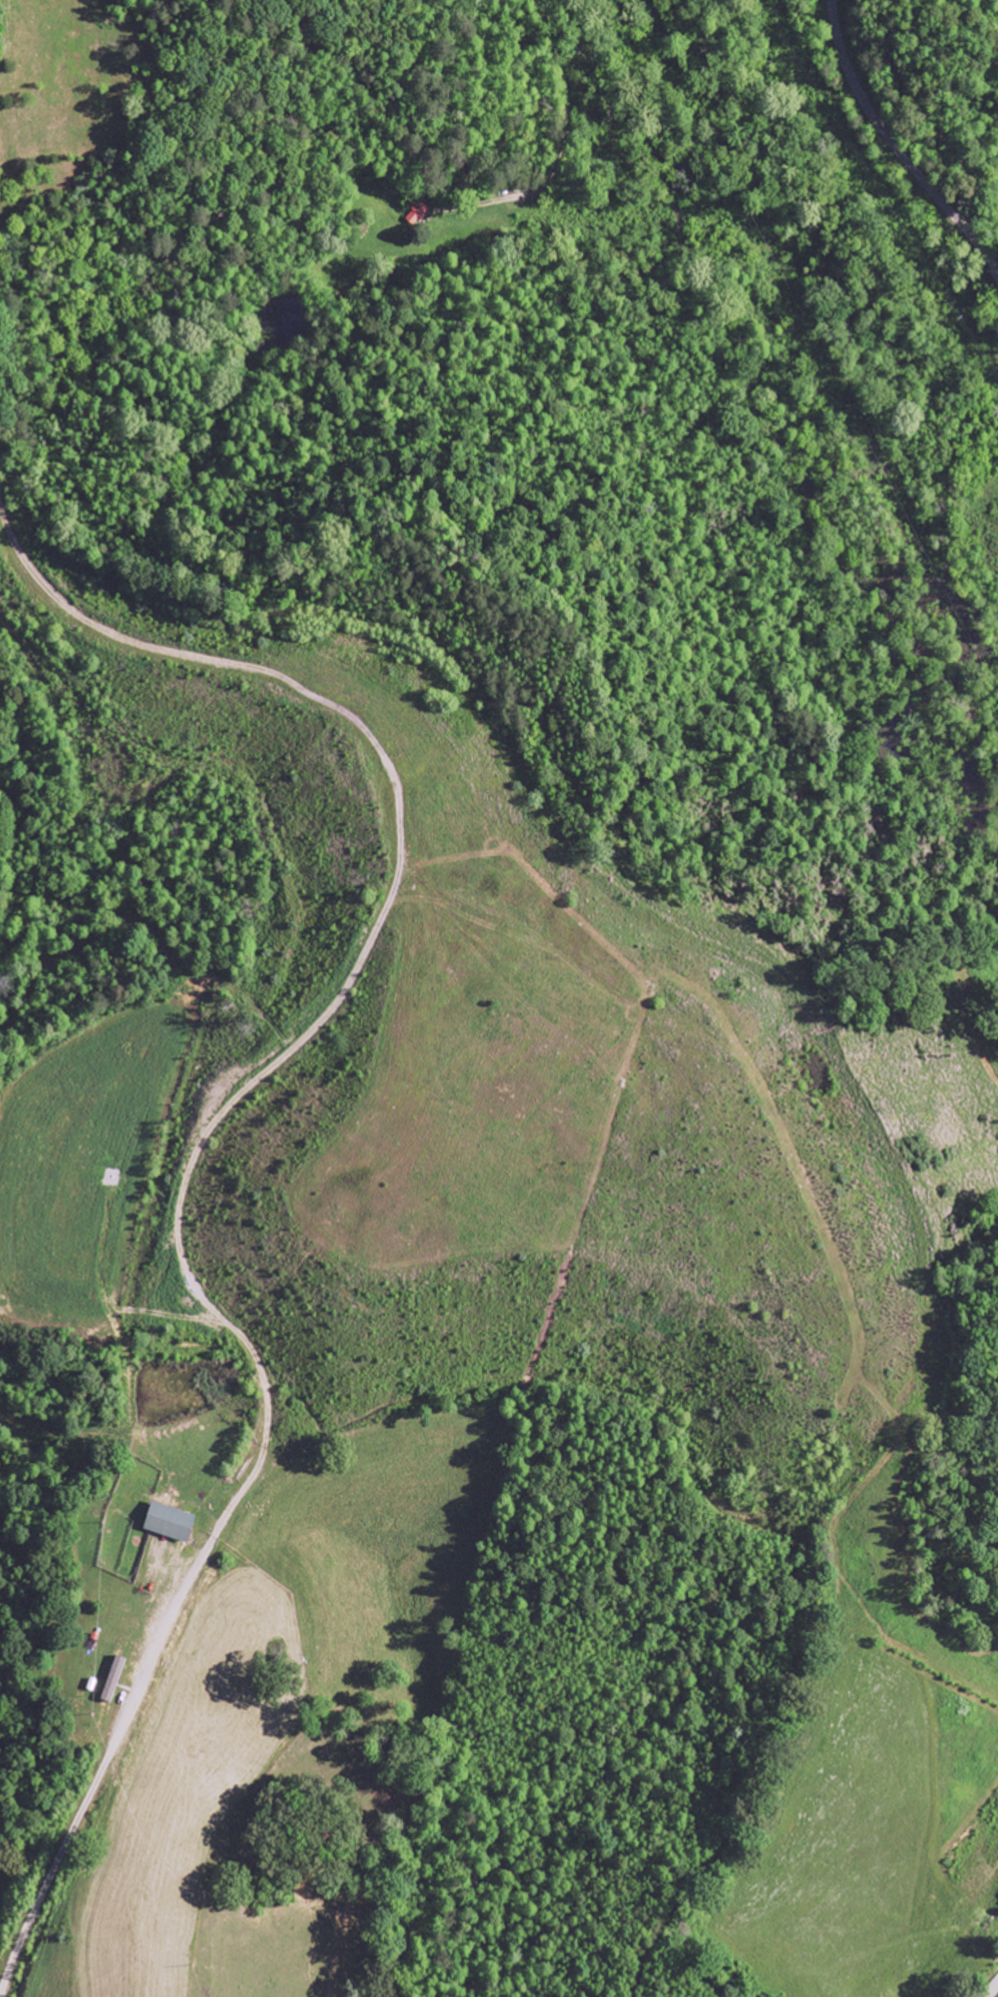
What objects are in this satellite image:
road: (898, 150)
building: (414, 214)
road: (968, 222)
building: (171, 1523)
building: (113, 1679)
road: (993, 1991)

